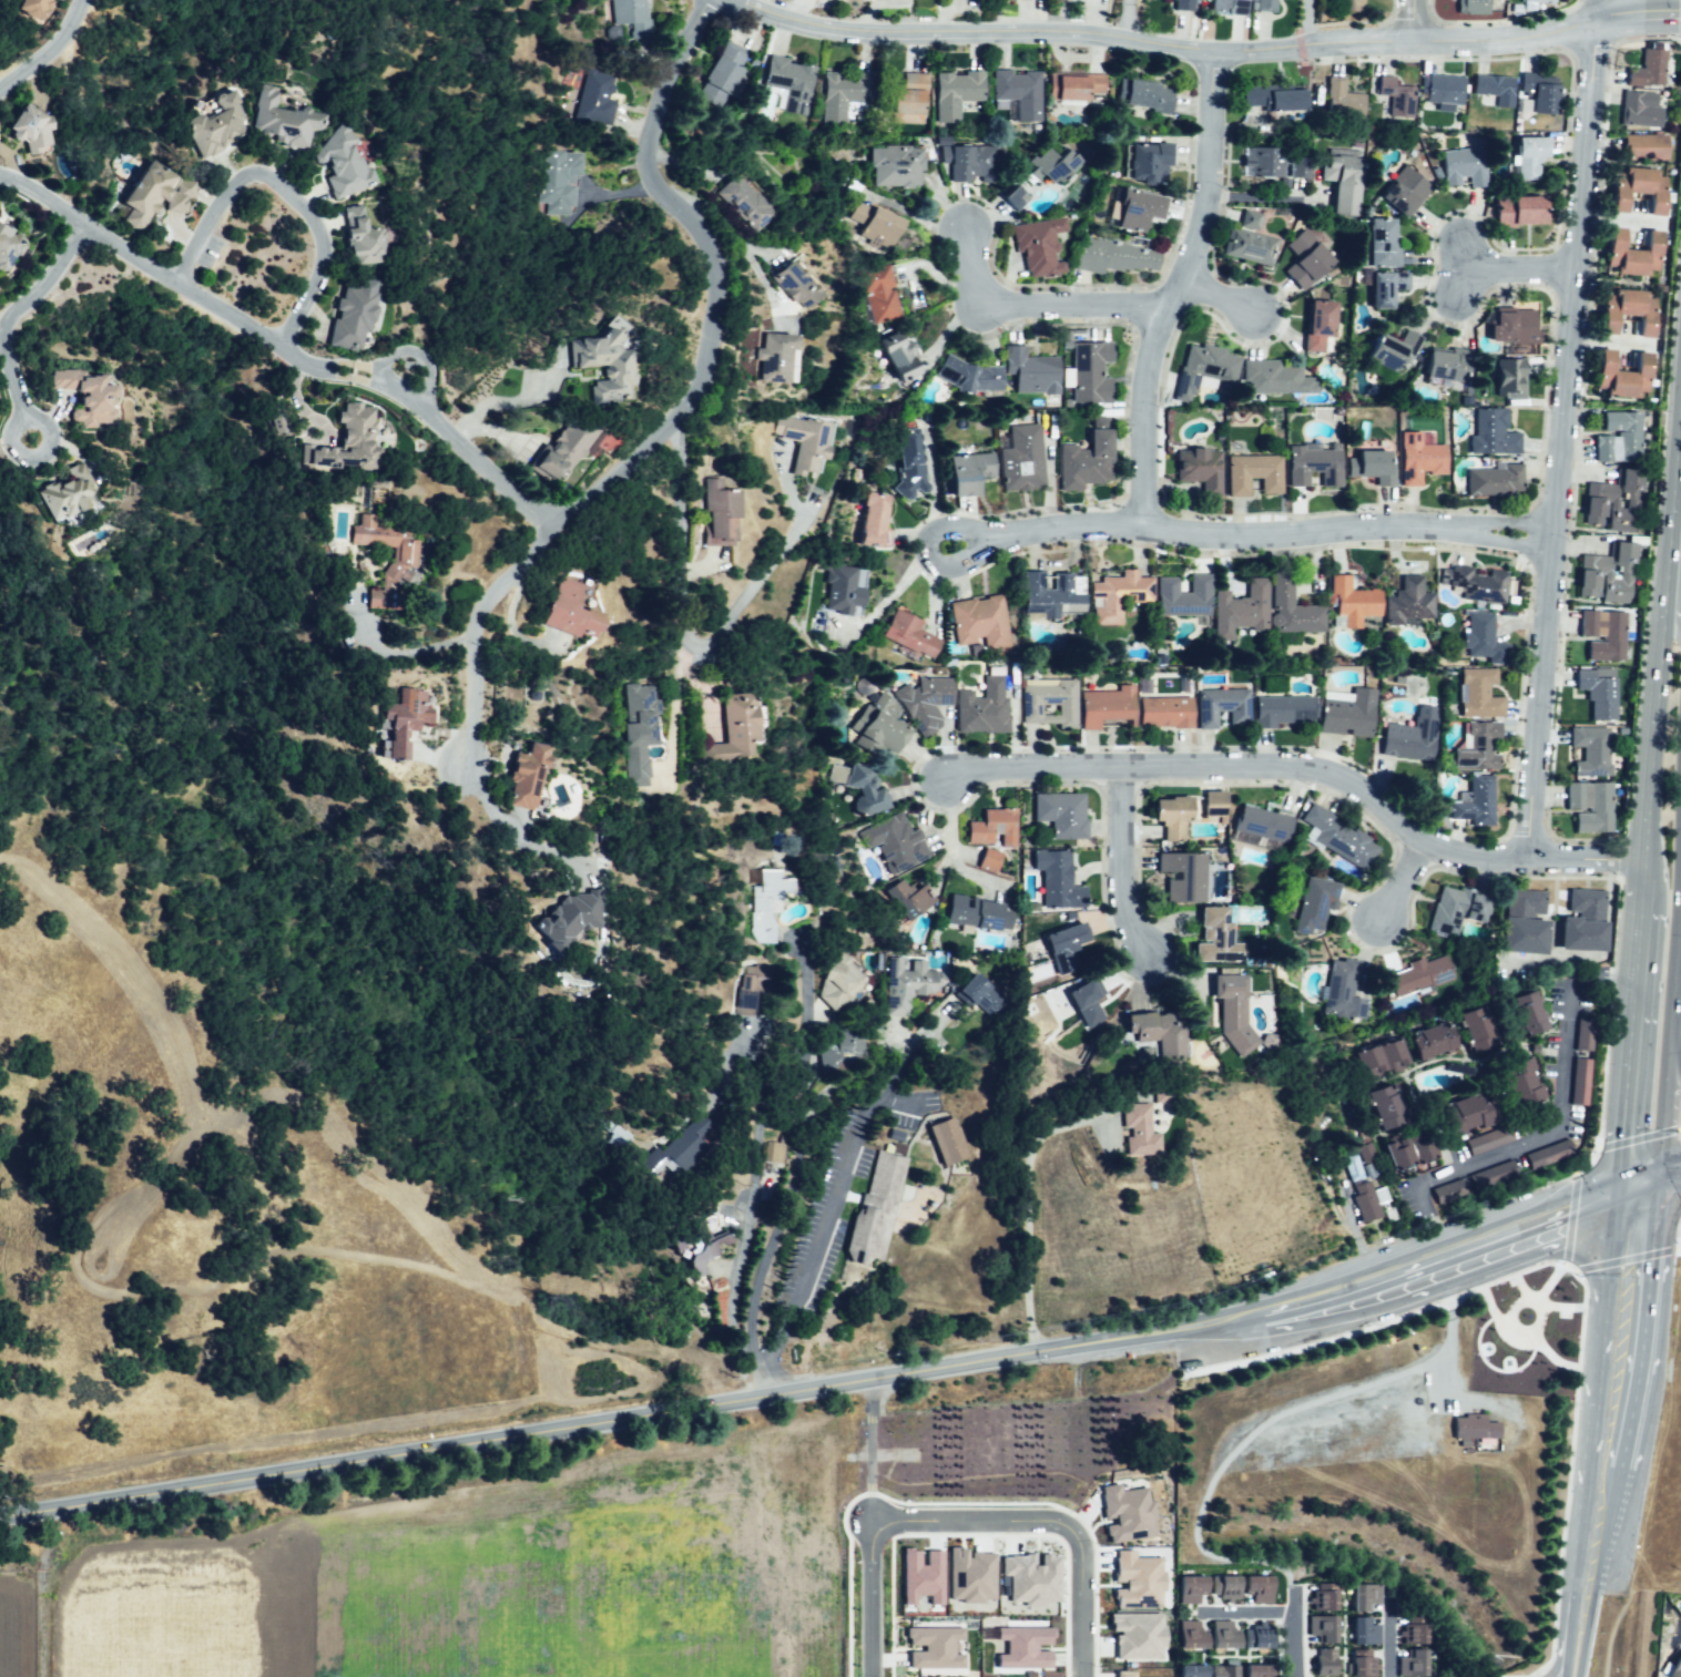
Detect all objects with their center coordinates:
building: (1536, 1)
building: (1181, 3)
building: (1227, 6)
building: (1265, 6)
building: (1348, 6)
building: (1470, 7)
building: (31, 8)
road: (1660, 16)
building: (628, 17)
road: (1130, 20)
road: (1416, 20)
road: (1308, 22)
road: (1680, 28)
road: (1188, 44)
road: (44, 48)
building: (1644, 69)
building: (722, 71)
building: (789, 82)
building: (1490, 85)
building: (1071, 86)
building: (1439, 88)
building: (1019, 92)
building: (1537, 92)
building: (840, 93)
building: (952, 93)
building: (906, 95)
building: (1270, 96)
building: (592, 98)
building: (1143, 98)
building: (1394, 98)
building: (1341, 99)
building: (1636, 109)
building: (278, 119)
building: (207, 123)
building: (21, 130)
building: (1641, 147)
building: (1526, 154)
building: (966, 160)
building: (1144, 162)
building: (1271, 162)
building: (894, 165)
building: (336, 166)
building: (1460, 166)
building: (1050, 168)
building: (557, 180)
building: (1341, 184)
road: (287, 188)
building: (1406, 190)
building: (177, 191)
building: (1631, 191)
building: (134, 195)
building: (1010, 195)
road: (1262, 197)
building: (737, 202)
building: (1133, 211)
building: (1515, 211)
building: (868, 225)
building: (1, 229)
road: (735, 234)
building: (349, 236)
building: (1249, 239)
building: (1379, 245)
building: (1038, 246)
building: (4, 250)
building: (1626, 254)
building: (1106, 255)
parking lot: (203, 257)
building: (1303, 259)
road: (1463, 267)
road: (1520, 273)
road: (44, 277)
road: (173, 280)
building: (789, 284)
road: (1172, 287)
building: (1384, 287)
road: (1216, 293)
building: (875, 295)
road: (1041, 305)
building: (1622, 313)
building: (348, 314)
building: (1315, 324)
building: (1510, 324)
road: (1611, 342)
building: (1390, 349)
building: (895, 355)
building: (770, 356)
road: (418, 357)
building: (590, 360)
building: (1443, 364)
building: (1210, 366)
road: (8, 374)
building: (1032, 374)
building: (1088, 375)
building: (965, 376)
building: (1505, 378)
building: (1274, 379)
building: (1618, 379)
building: (78, 398)
road: (682, 406)
road: (1561, 426)
building: (1492, 434)
road: (461, 439)
building: (1614, 440)
building: (338, 443)
building: (798, 446)
road: (47, 447)
building: (590, 447)
building: (1086, 459)
building: (1417, 459)
building: (1021, 460)
road: (1675, 460)
building: (1312, 463)
building: (543, 466)
building: (1369, 466)
building: (907, 467)
building: (1195, 467)
building: (964, 473)
building: (1250, 473)
building: (1494, 483)
building: (60, 494)
building: (1610, 504)
building: (710, 514)
building: (867, 521)
road: (1262, 538)
road: (928, 553)
building: (398, 563)
road: (1667, 571)
building: (1603, 575)
building: (1477, 585)
building: (585, 589)
building: (836, 591)
building: (1182, 596)
building: (1048, 597)
building: (1138, 601)
building: (1348, 603)
building: (1406, 603)
building: (1290, 609)
building: (1237, 610)
building: (566, 613)
road: (1672, 617)
building: (977, 622)
building: (904, 634)
building: (1601, 634)
road: (682, 635)
building: (1480, 637)
road: (409, 652)
building: (1595, 694)
building: (1477, 696)
building: (923, 702)
building: (884, 703)
building: (1046, 704)
road: (671, 706)
building: (1101, 707)
building: (980, 708)
building: (1219, 708)
building: (1280, 710)
building: (1160, 712)
building: (1346, 716)
building: (396, 720)
building: (733, 722)
building: (877, 733)
road: (1653, 736)
building: (633, 737)
building: (1407, 742)
building: (1476, 748)
building: (1588, 750)
road: (1280, 766)
building: (519, 779)
building: (860, 793)
building: (1475, 804)
building: (1587, 807)
building: (1209, 808)
building: (1060, 816)
road: (949, 817)
building: (1166, 818)
building: (992, 825)
building: (1257, 828)
road: (507, 832)
building: (1335, 838)
building: (895, 845)
road: (1613, 859)
building: (985, 861)
road: (1127, 862)
building: (1180, 876)
building: (1056, 880)
road: (1396, 883)
road: (1642, 887)
building: (768, 890)
building: (1314, 903)
building: (1522, 903)
building: (1589, 903)
building: (900, 904)
building: (1453, 911)
building: (972, 916)
building: (568, 922)
road: (1677, 922)
road: (1614, 926)
building: (1213, 931)
building: (1577, 935)
building: (1519, 938)
building: (1061, 951)
building: (1417, 979)
building: (829, 988)
building: (903, 988)
building: (742, 991)
building: (1339, 991)
building: (976, 995)
building: (1082, 1006)
building: (1520, 1009)
building: (1229, 1012)
road: (1670, 1012)
building: (1151, 1030)
building: (1471, 1031)
building: (1580, 1035)
building: (1426, 1043)
building: (829, 1051)
road: (1629, 1051)
building: (1387, 1055)
road: (1673, 1059)
building: (1366, 1061)
road: (1602, 1077)
building: (1516, 1083)
building: (1577, 1088)
road: (1558, 1103)
building: (1381, 1108)
building: (1460, 1116)
road: (1660, 1119)
building: (1138, 1129)
road: (1640, 1136)
building: (771, 1141)
building: (946, 1142)
building: (1484, 1142)
building: (683, 1145)
road: (796, 1147)
building: (1416, 1147)
building: (1545, 1153)
building: (1362, 1154)
building: (1392, 1155)
building: (1352, 1166)
building: (1487, 1175)
road: (1658, 1179)
parking lot: (849, 1180)
traffic signals: (1636, 1188)
building: (1444, 1192)
road: (750, 1195)
building: (1361, 1201)
road: (1023, 1204)
building: (878, 1210)
road: (1569, 1216)
road: (824, 1217)
road: (1679, 1238)
road: (1624, 1258)
road: (1454, 1260)
building: (696, 1265)
road: (1619, 1327)
road: (1362, 1385)
road: (633, 1418)
building: (1469, 1423)
road: (869, 1452)
road: (1568, 1465)
road: (956, 1502)
building: (1127, 1512)
road: (892, 1521)
road: (1592, 1528)
road: (975, 1534)
road: (1212, 1557)
building: (921, 1575)
building: (969, 1575)
building: (1030, 1577)
building: (1137, 1579)
building: (1222, 1586)
building: (1189, 1587)
building: (1253, 1588)
building: (1320, 1596)
building: (1363, 1597)
road: (1295, 1599)
road: (1080, 1601)
road: (1247, 1613)
road: (1579, 1620)
building: (1320, 1629)
building: (1362, 1630)
building: (1408, 1632)
building: (1216, 1634)
building: (1137, 1635)
building: (1188, 1637)
building: (1254, 1638)
road: (1387, 1638)
road: (1295, 1645)
building: (1023, 1646)
building: (934, 1647)
road: (1559, 1663)
building: (1321, 1664)
road: (1572, 1664)
building: (1359, 1665)
building: (1408, 1665)
building: (1674, 1667)
building: (1189, 1670)
building: (1253, 1670)
building: (1219, 1671)
building: (1123, 1674)
road: (1539, 1675)

